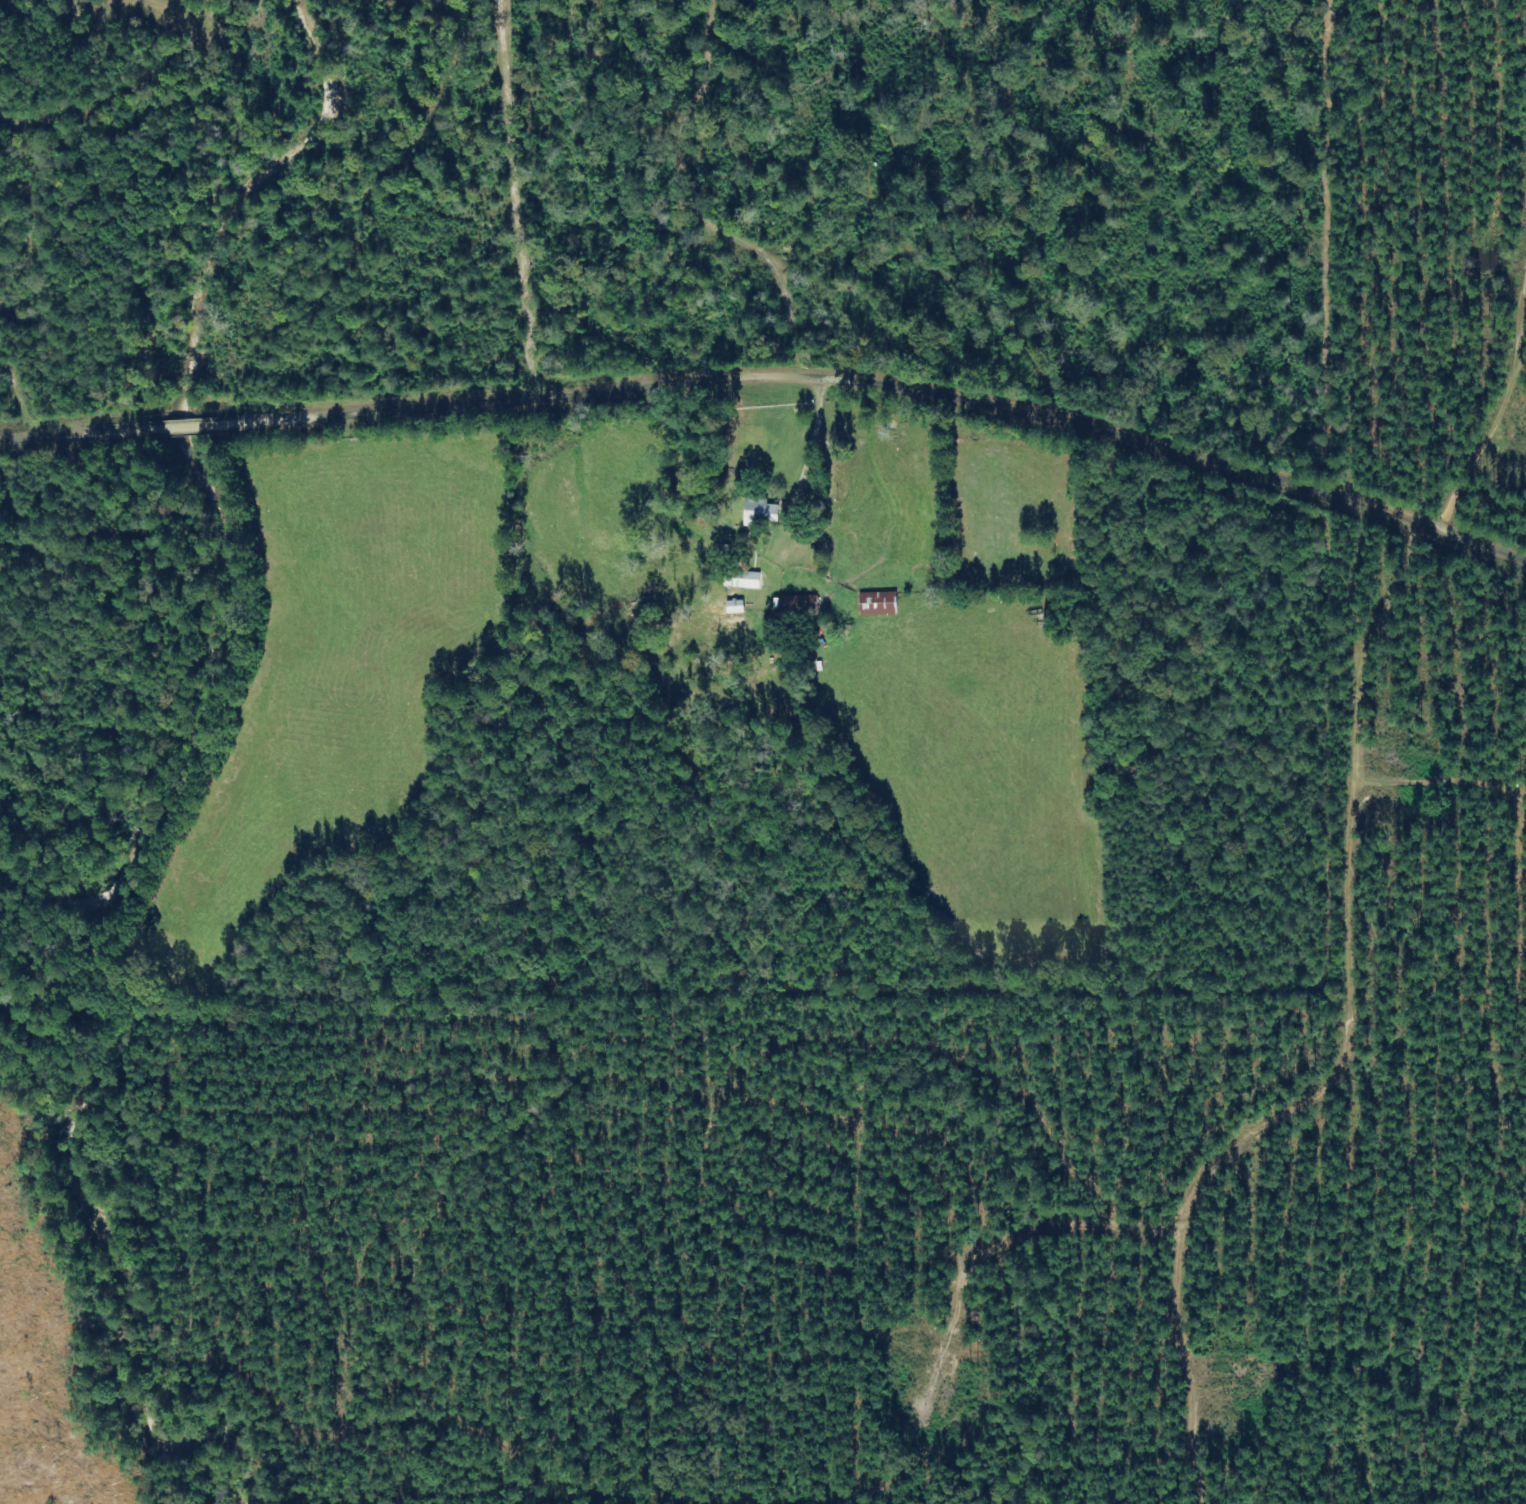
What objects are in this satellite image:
road: (774, 411)
building: (767, 511)
building: (882, 607)
road: (875, 867)
road: (1423, 962)
road: (1193, 1383)

